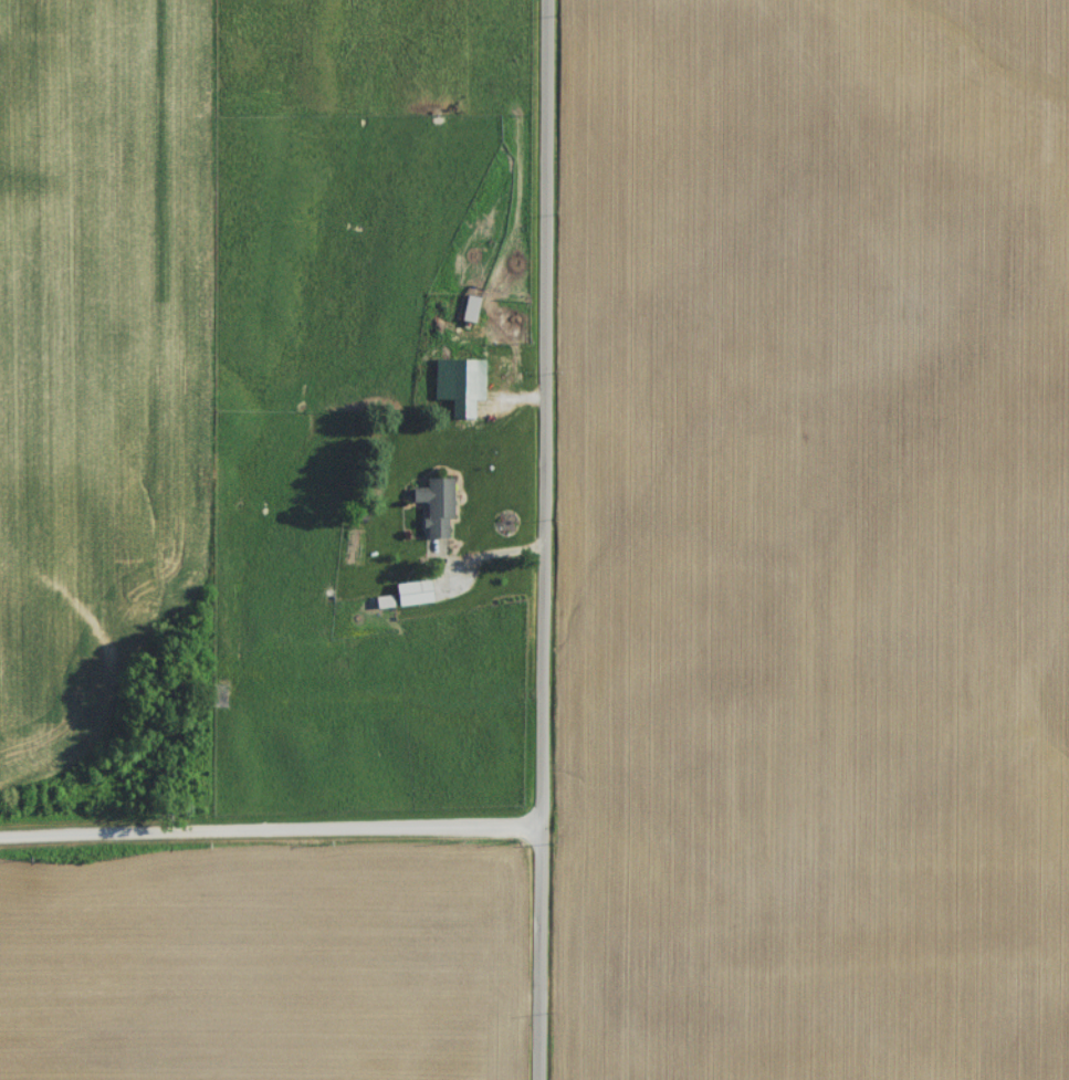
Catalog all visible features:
building: (455, 384)
building: (437, 511)
road: (547, 539)
building: (415, 598)
building: (385, 607)
road: (272, 829)

